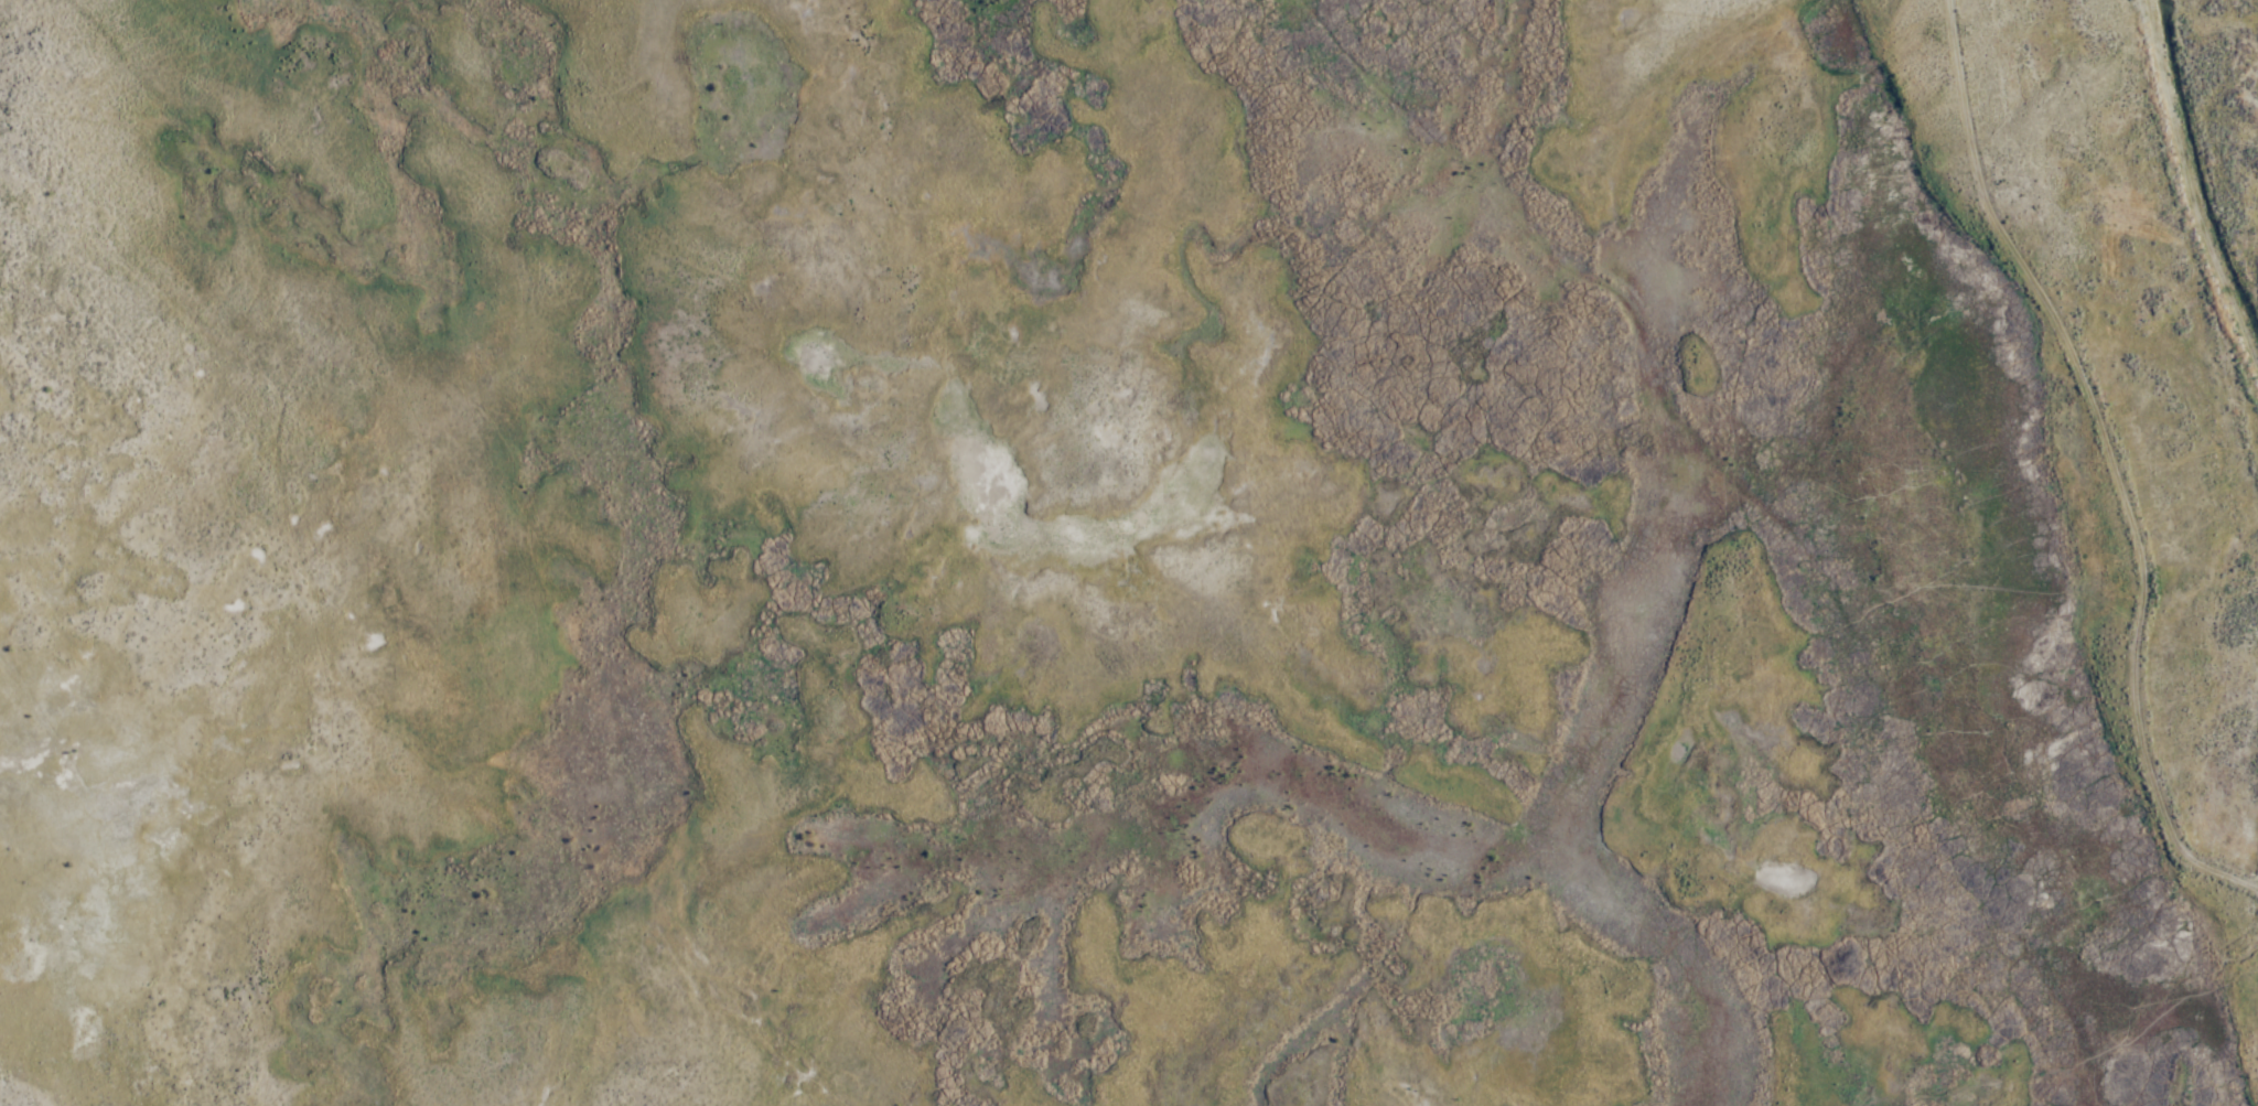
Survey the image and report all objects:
road: (2193, 181)
road: (2112, 459)

